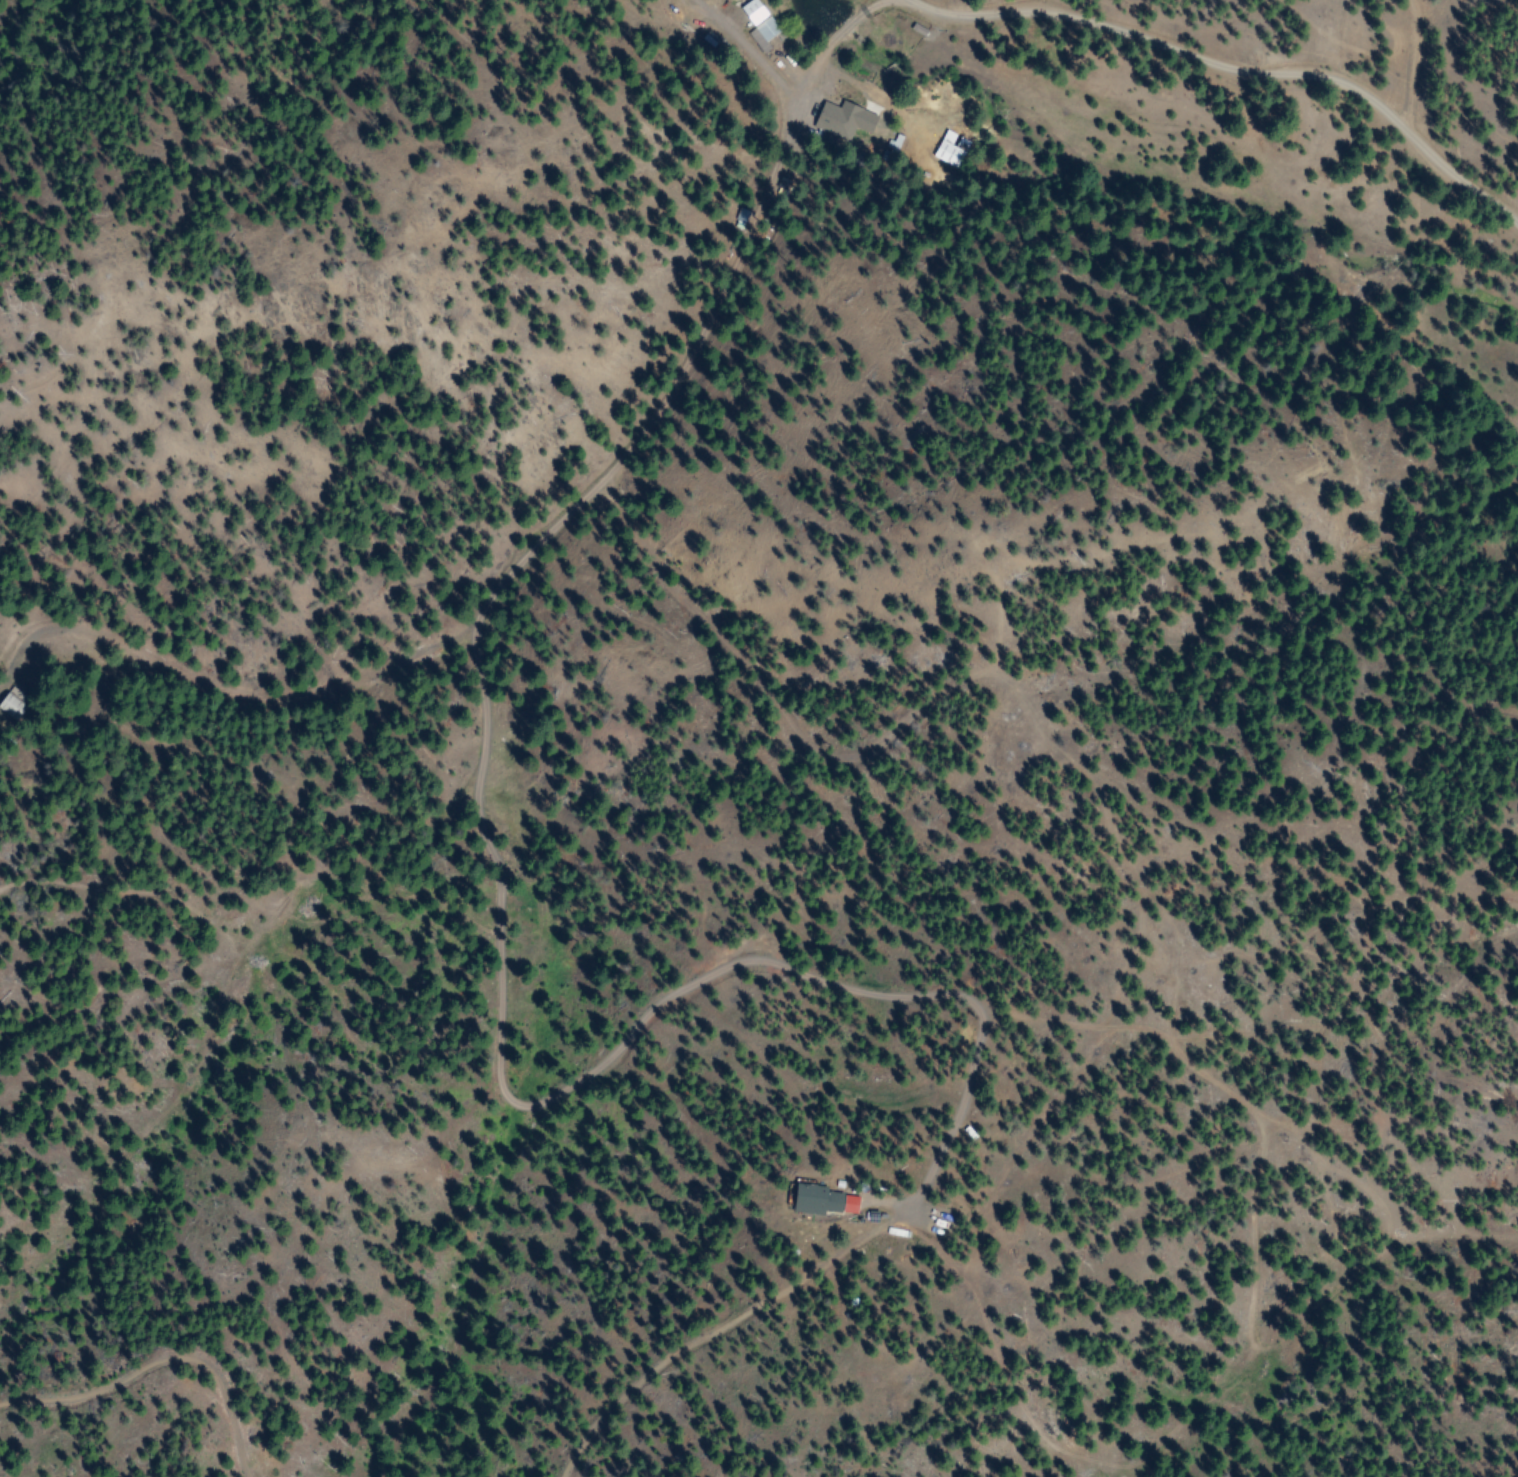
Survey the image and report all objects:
building: (768, 29)
road: (1232, 86)
building: (842, 127)
building: (13, 707)
building: (819, 1200)

